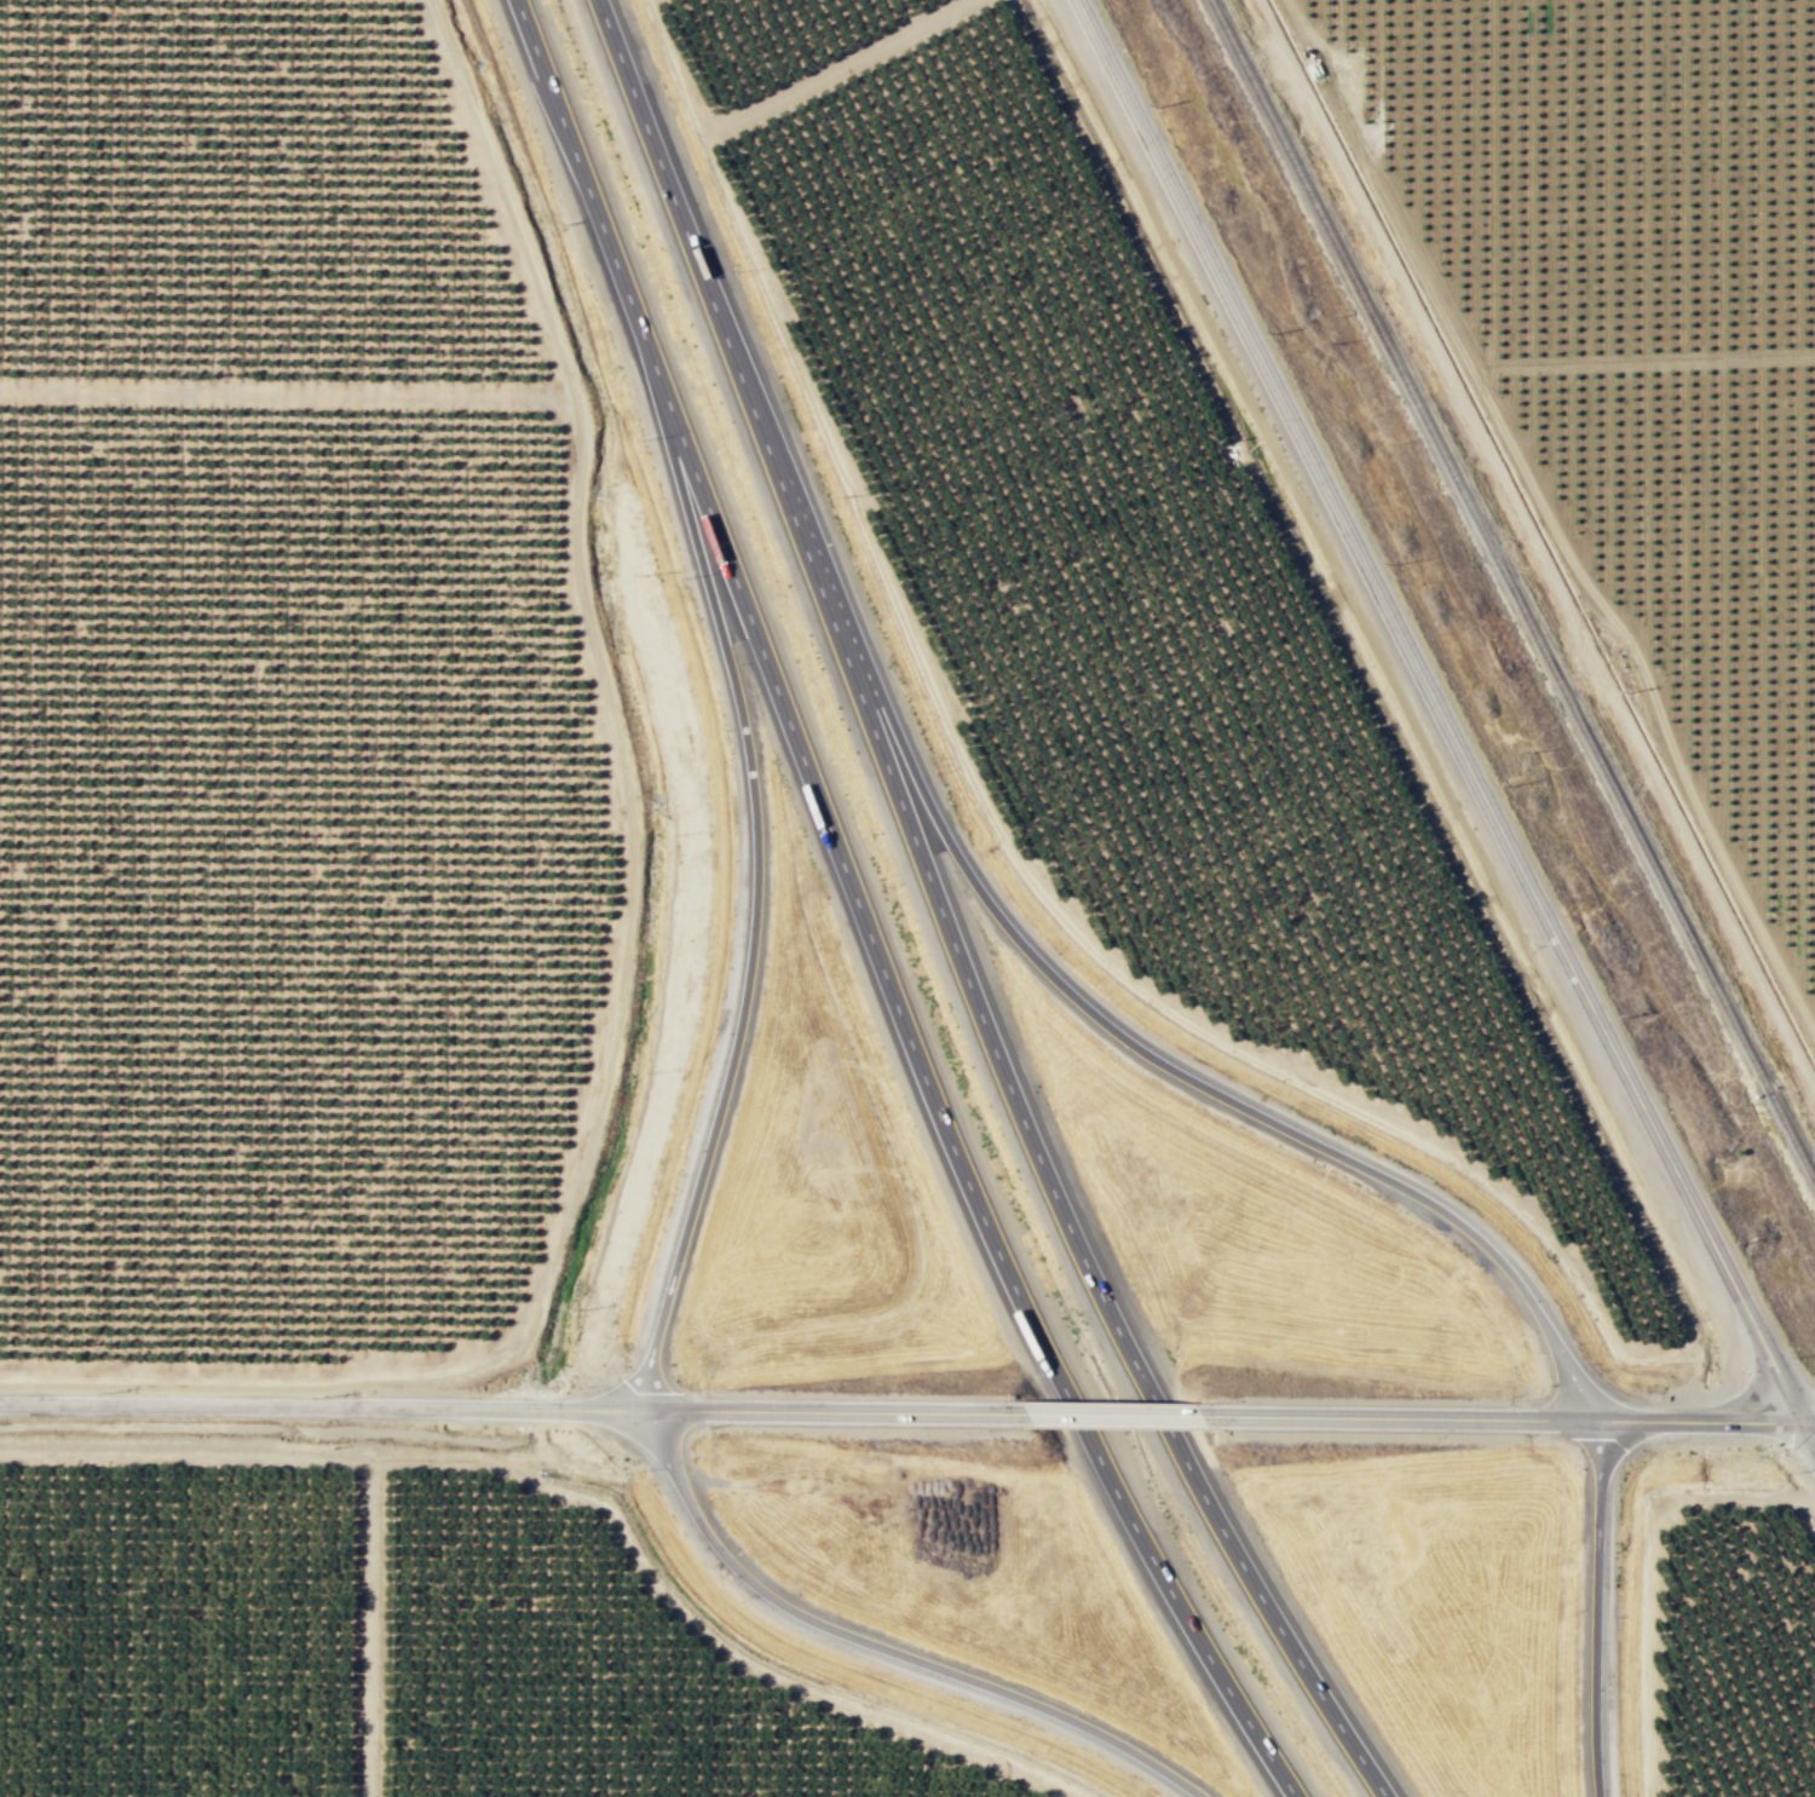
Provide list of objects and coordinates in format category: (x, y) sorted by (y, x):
railway: (1511, 592)
road: (1441, 712)
road: (753, 900)
road: (872, 916)
road: (953, 921)
road: (629, 926)
road: (1102, 1016)
road: (322, 1406)
road: (832, 1411)
road: (1111, 1413)
road: (1502, 1418)
road: (1810, 1422)
road: (1810, 1432)
road: (587, 1502)
road: (1596, 1608)
road: (369, 1628)
road: (885, 1647)

